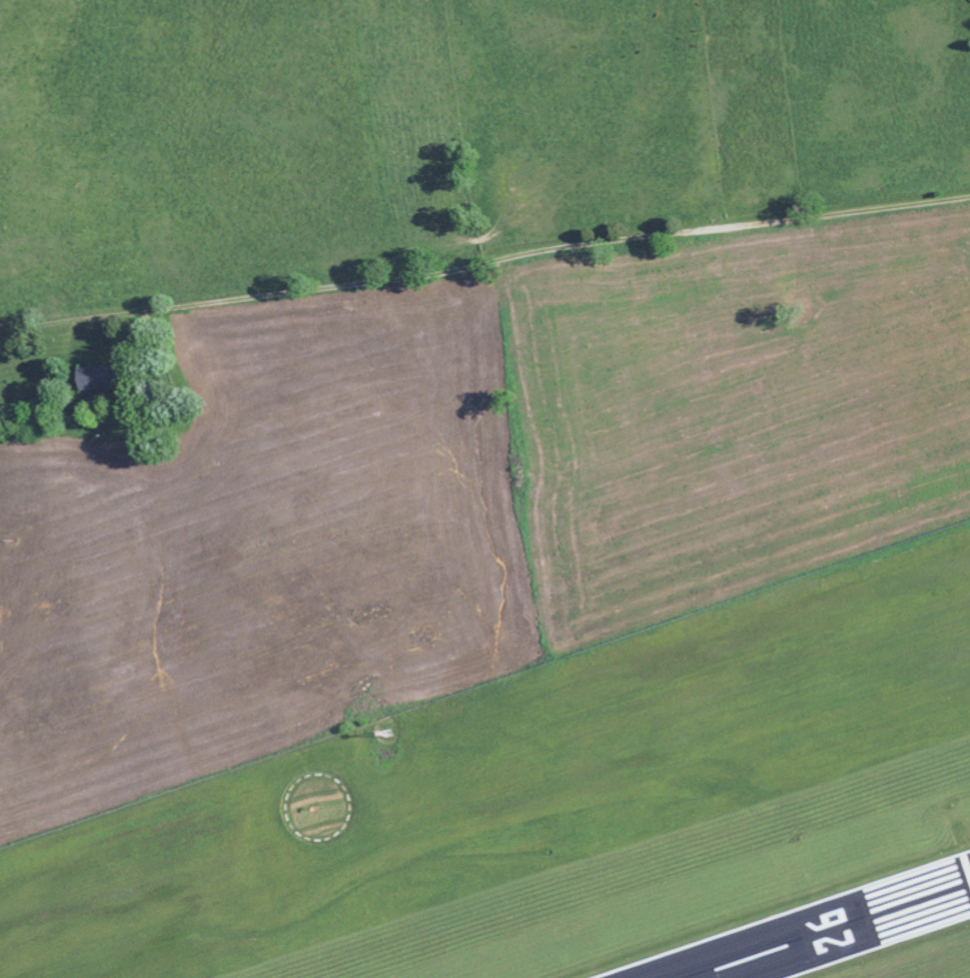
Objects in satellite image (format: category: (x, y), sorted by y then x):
building: (106, 377)
airport runway: (830, 930)

